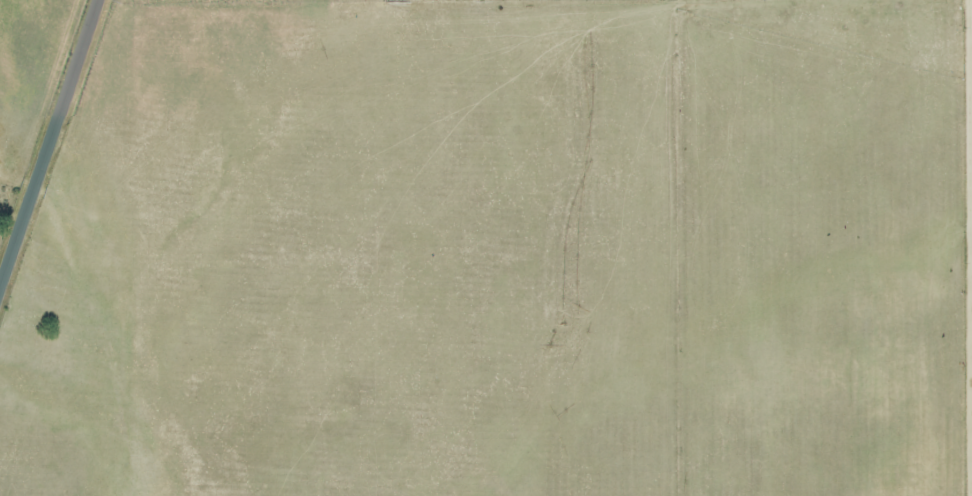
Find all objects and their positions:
road: (49, 148)

